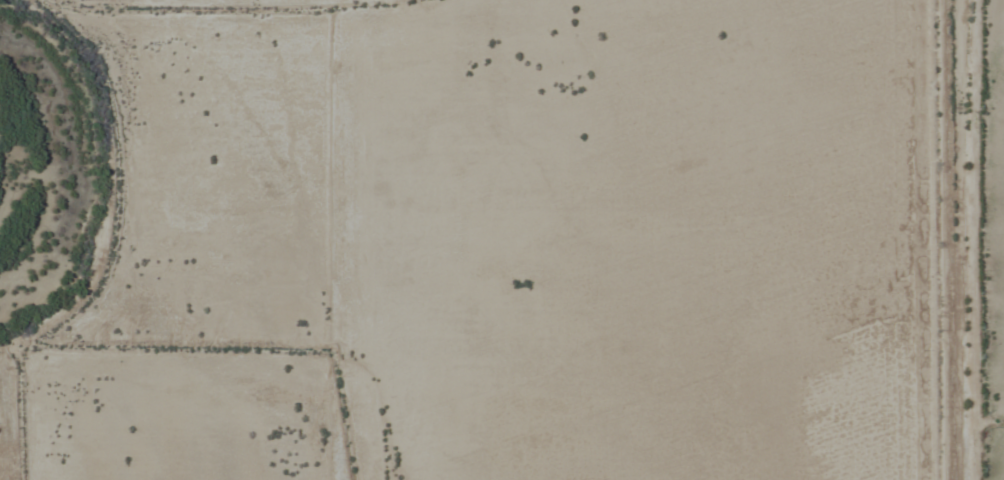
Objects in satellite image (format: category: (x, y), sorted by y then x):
road: (100, 198)

